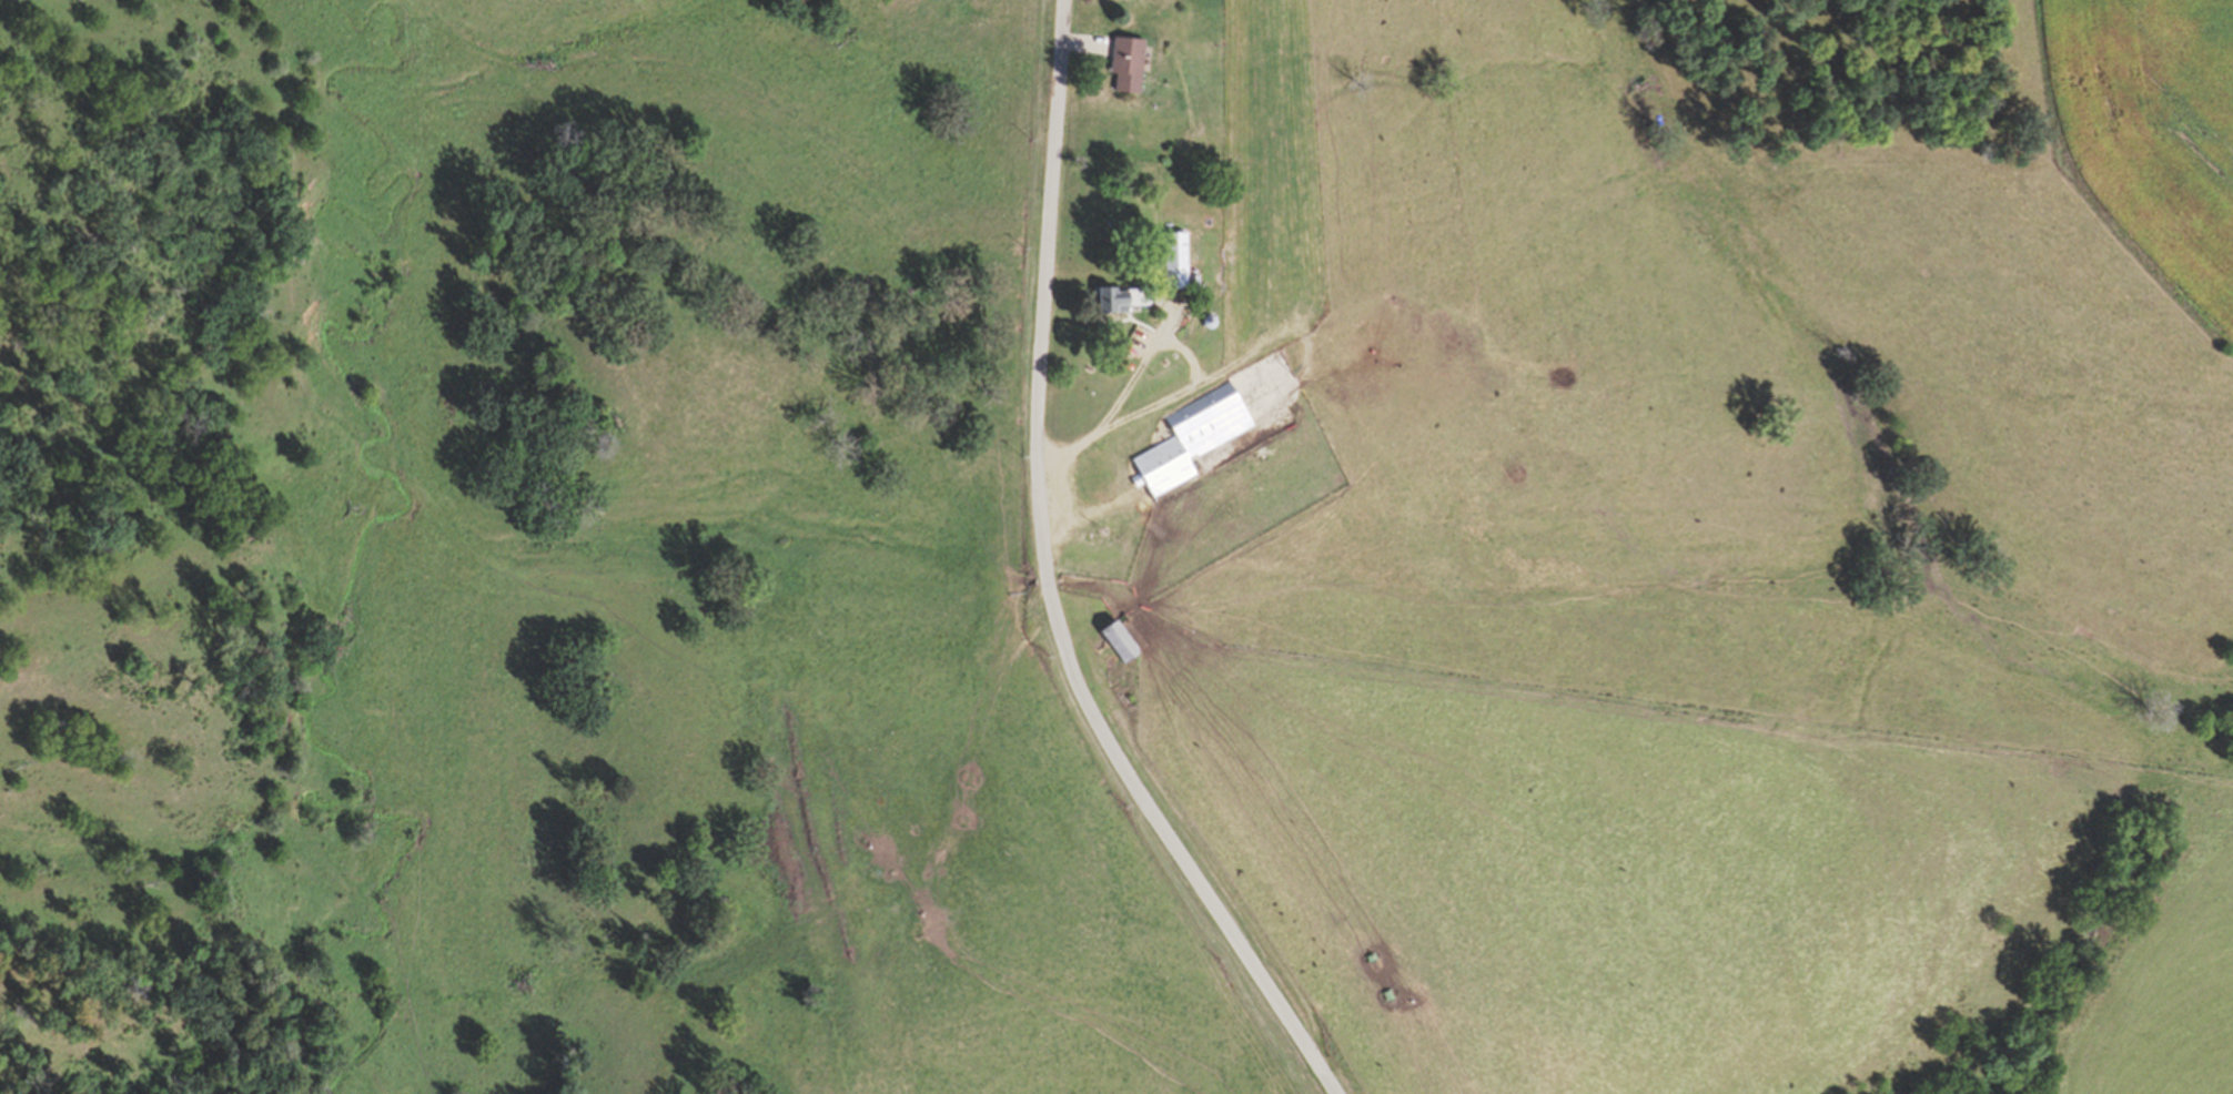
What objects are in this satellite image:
building: (1129, 64)
building: (1179, 260)
building: (1128, 298)
road: (1160, 332)
building: (1195, 437)
road: (1047, 584)
building: (1123, 644)
road: (1317, 705)

